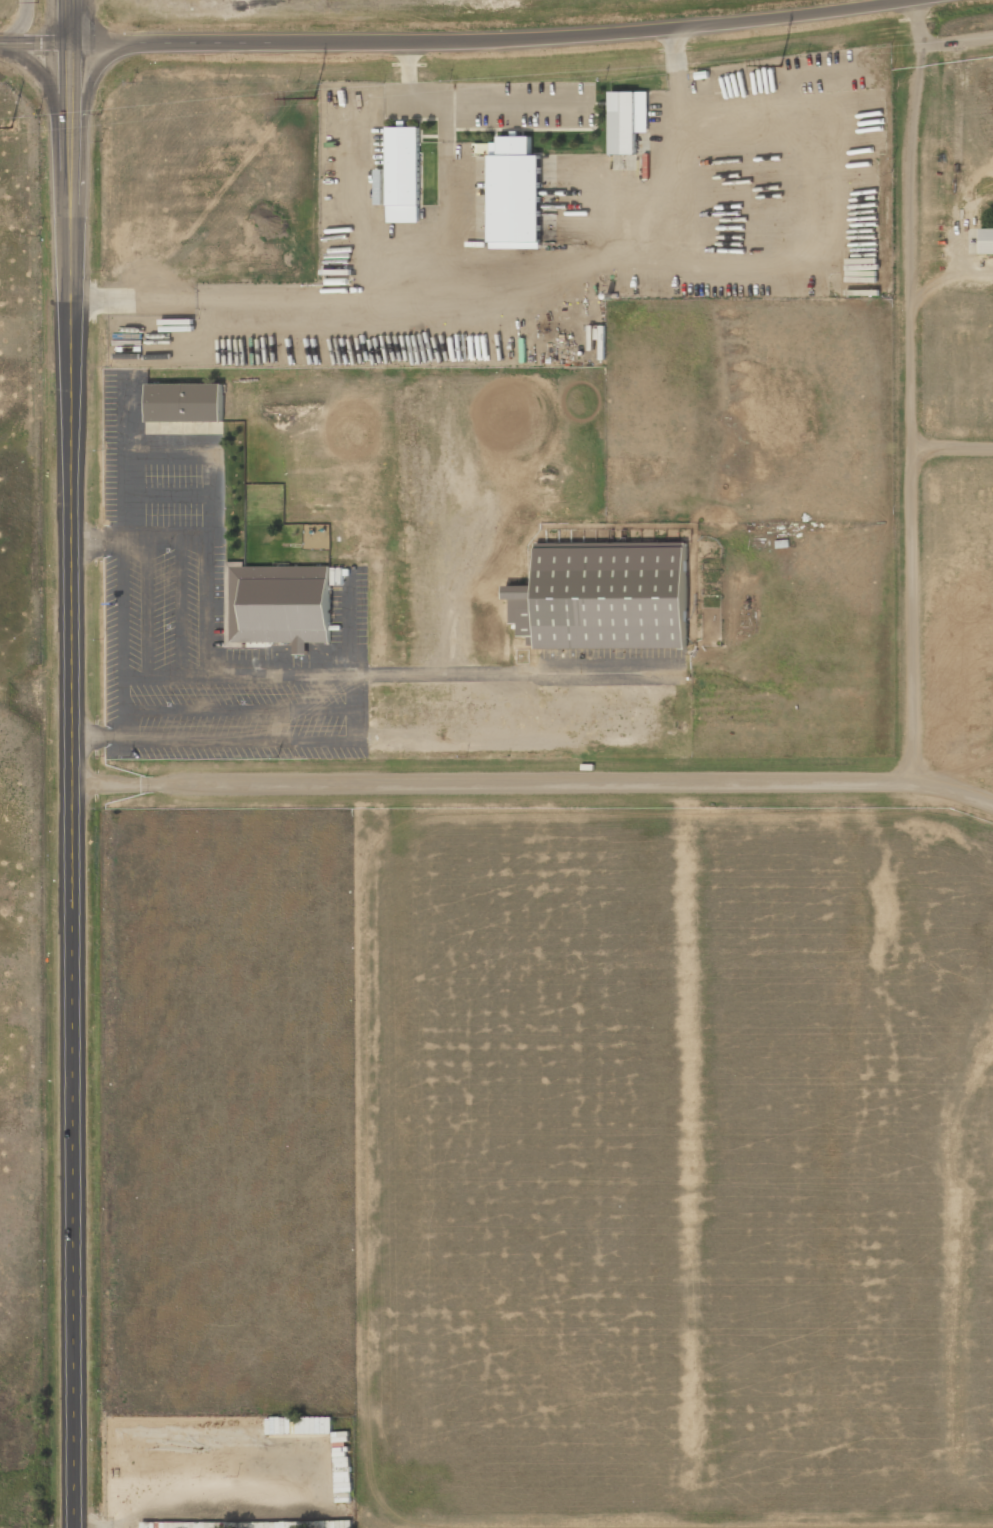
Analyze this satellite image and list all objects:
road: (22, 25)
road: (491, 39)
road: (34, 43)
power tower: (782, 66)
power tower: (316, 98)
road: (83, 110)
road: (56, 114)
building: (629, 124)
power tower: (13, 128)
building: (482, 149)
building: (401, 178)
building: (517, 199)
building: (987, 241)
building: (186, 403)
building: (605, 597)
building: (283, 608)
road: (73, 763)
road: (536, 782)
building: (300, 1425)
building: (343, 1467)
building: (300, 1524)

